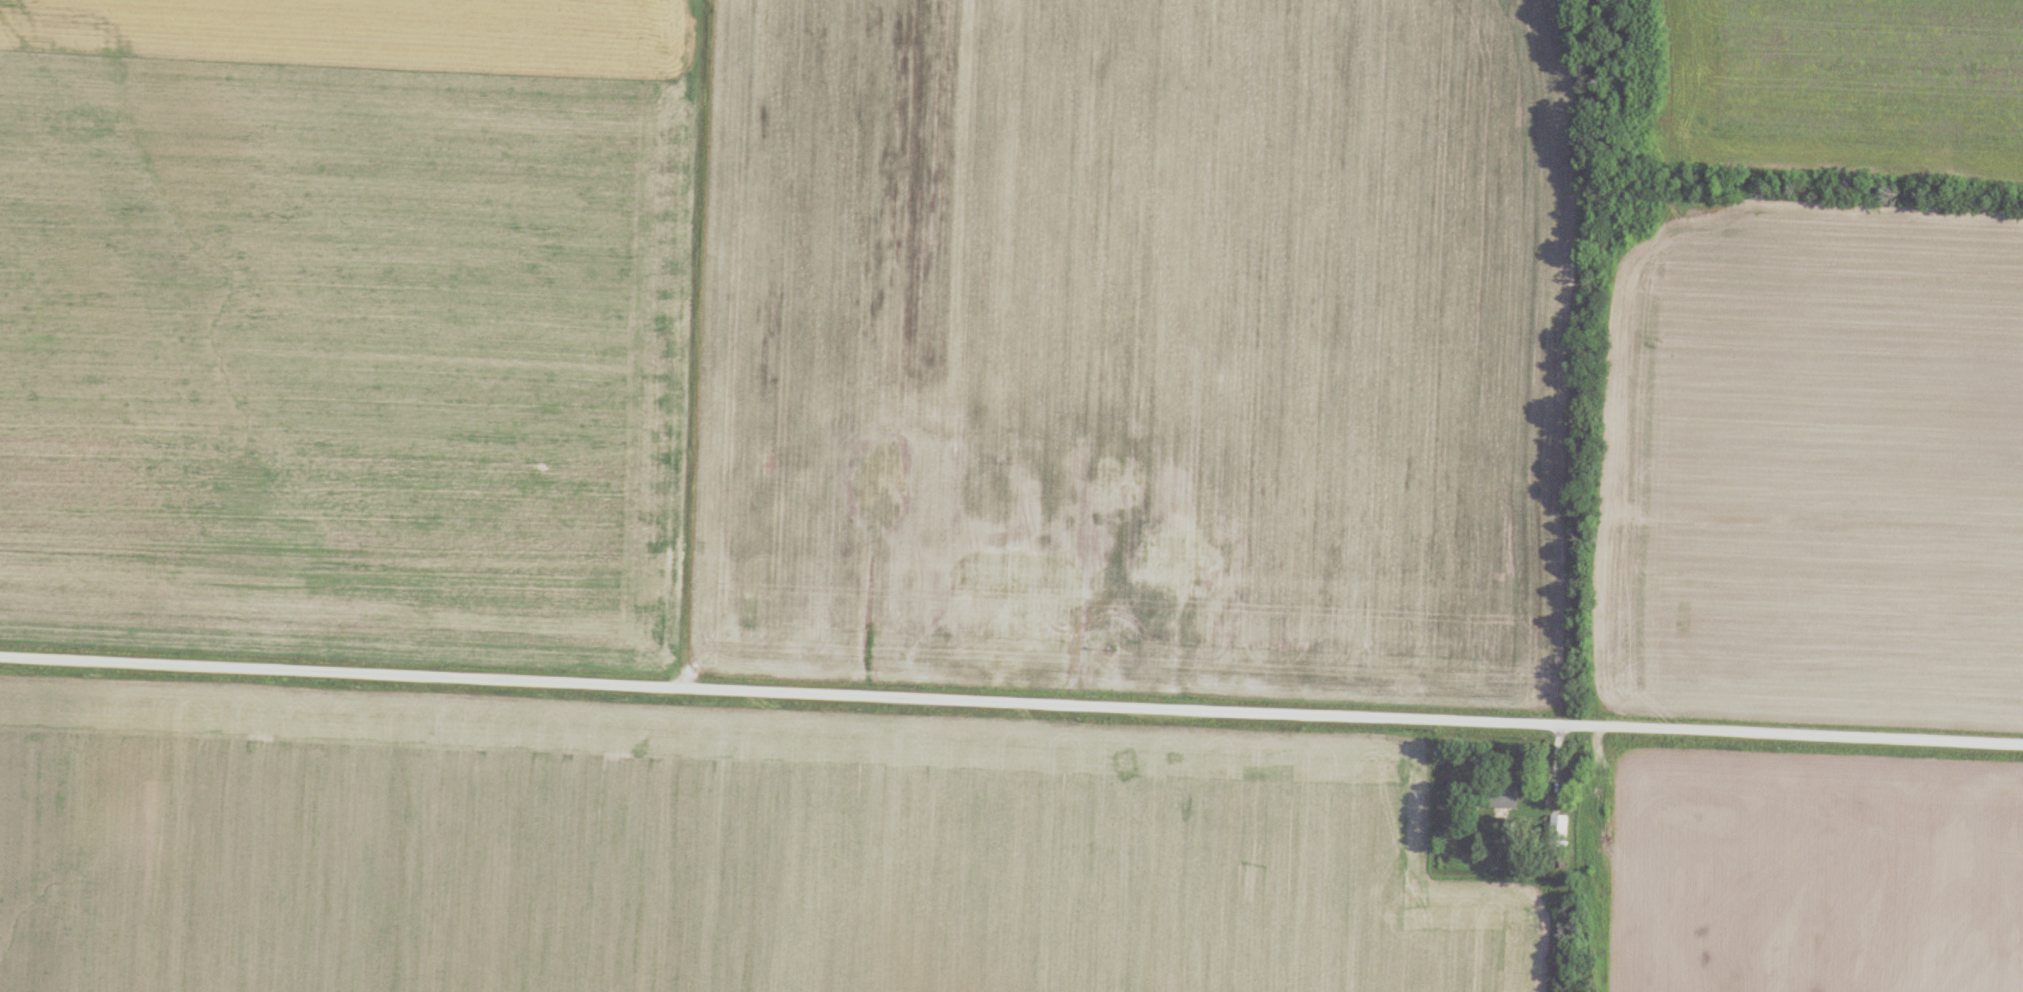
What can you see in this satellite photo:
road: (1011, 704)
building: (1498, 797)
road: (1556, 801)
building: (1558, 828)

